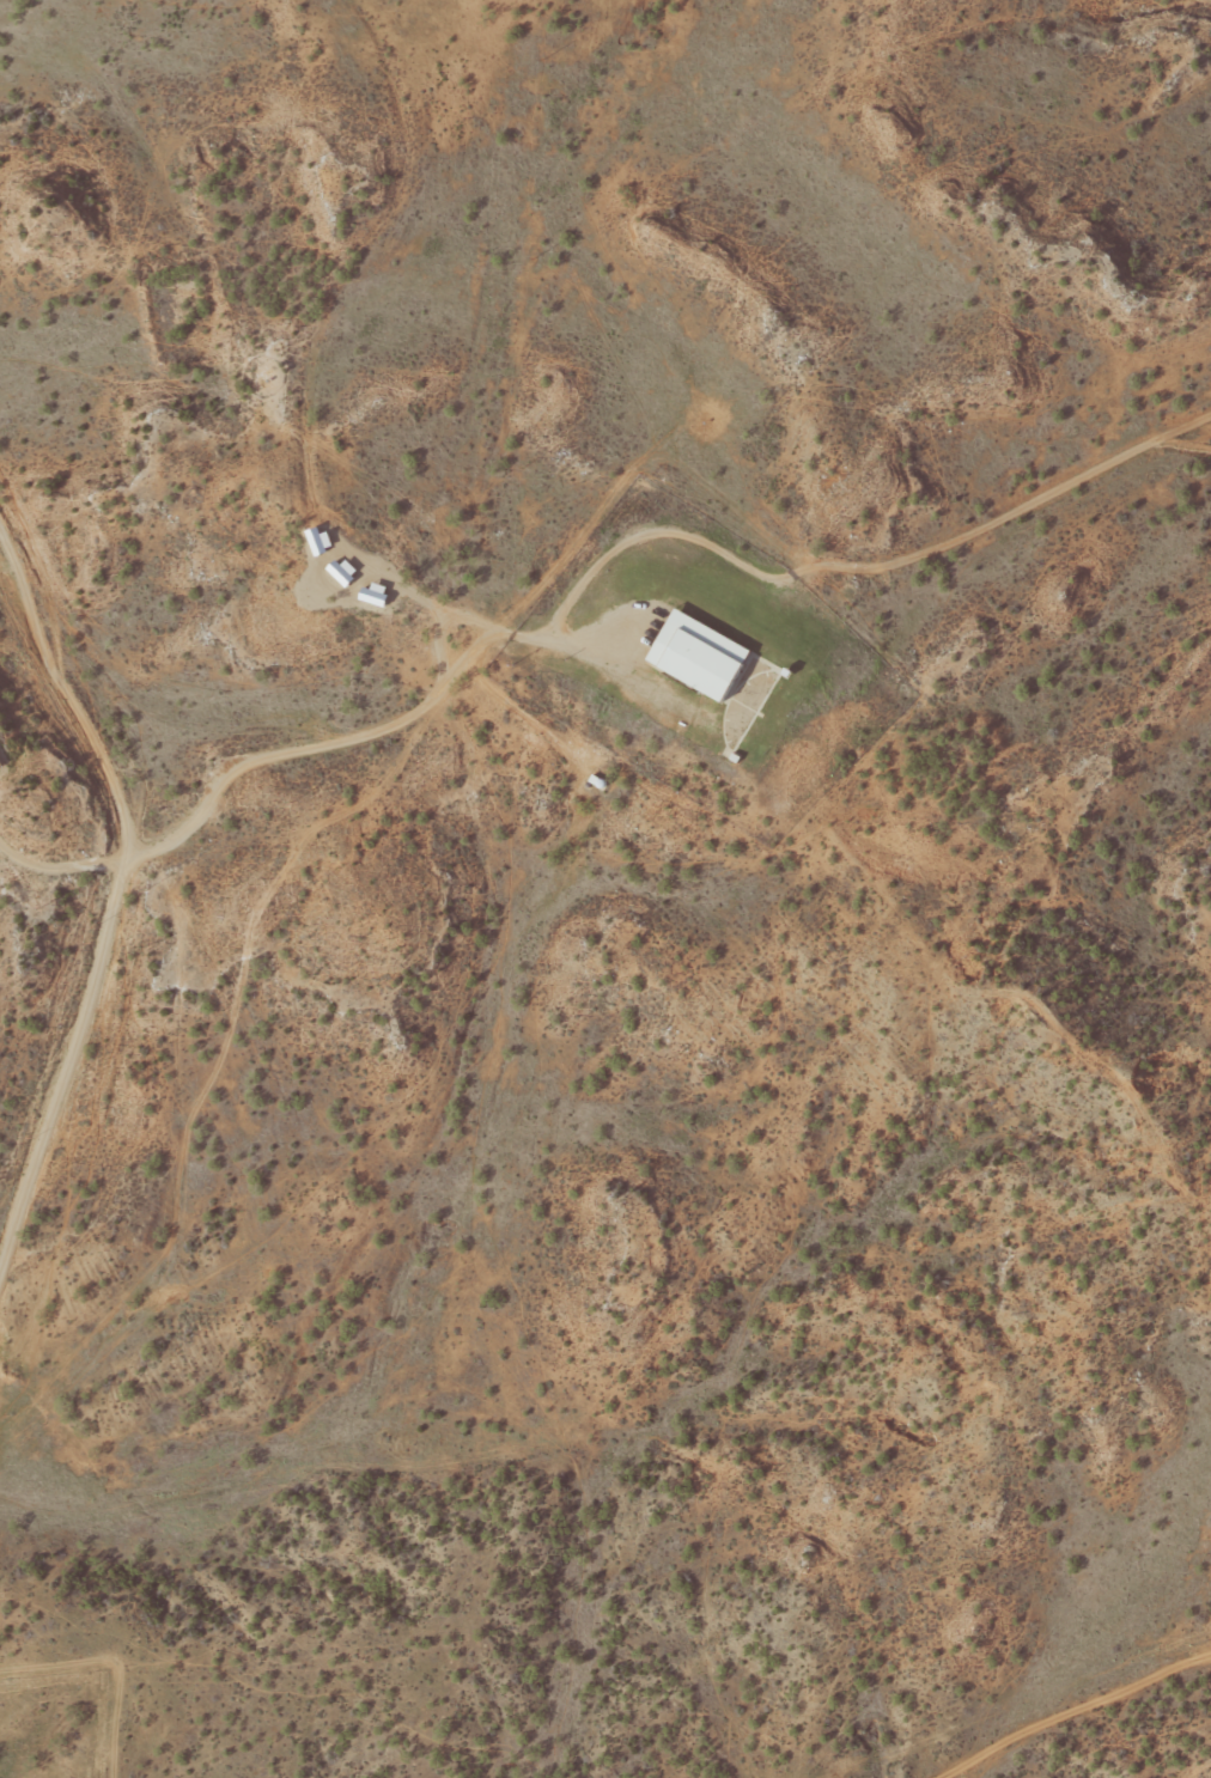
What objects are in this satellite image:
building: (705, 654)
road: (430, 680)
road: (54, 803)

